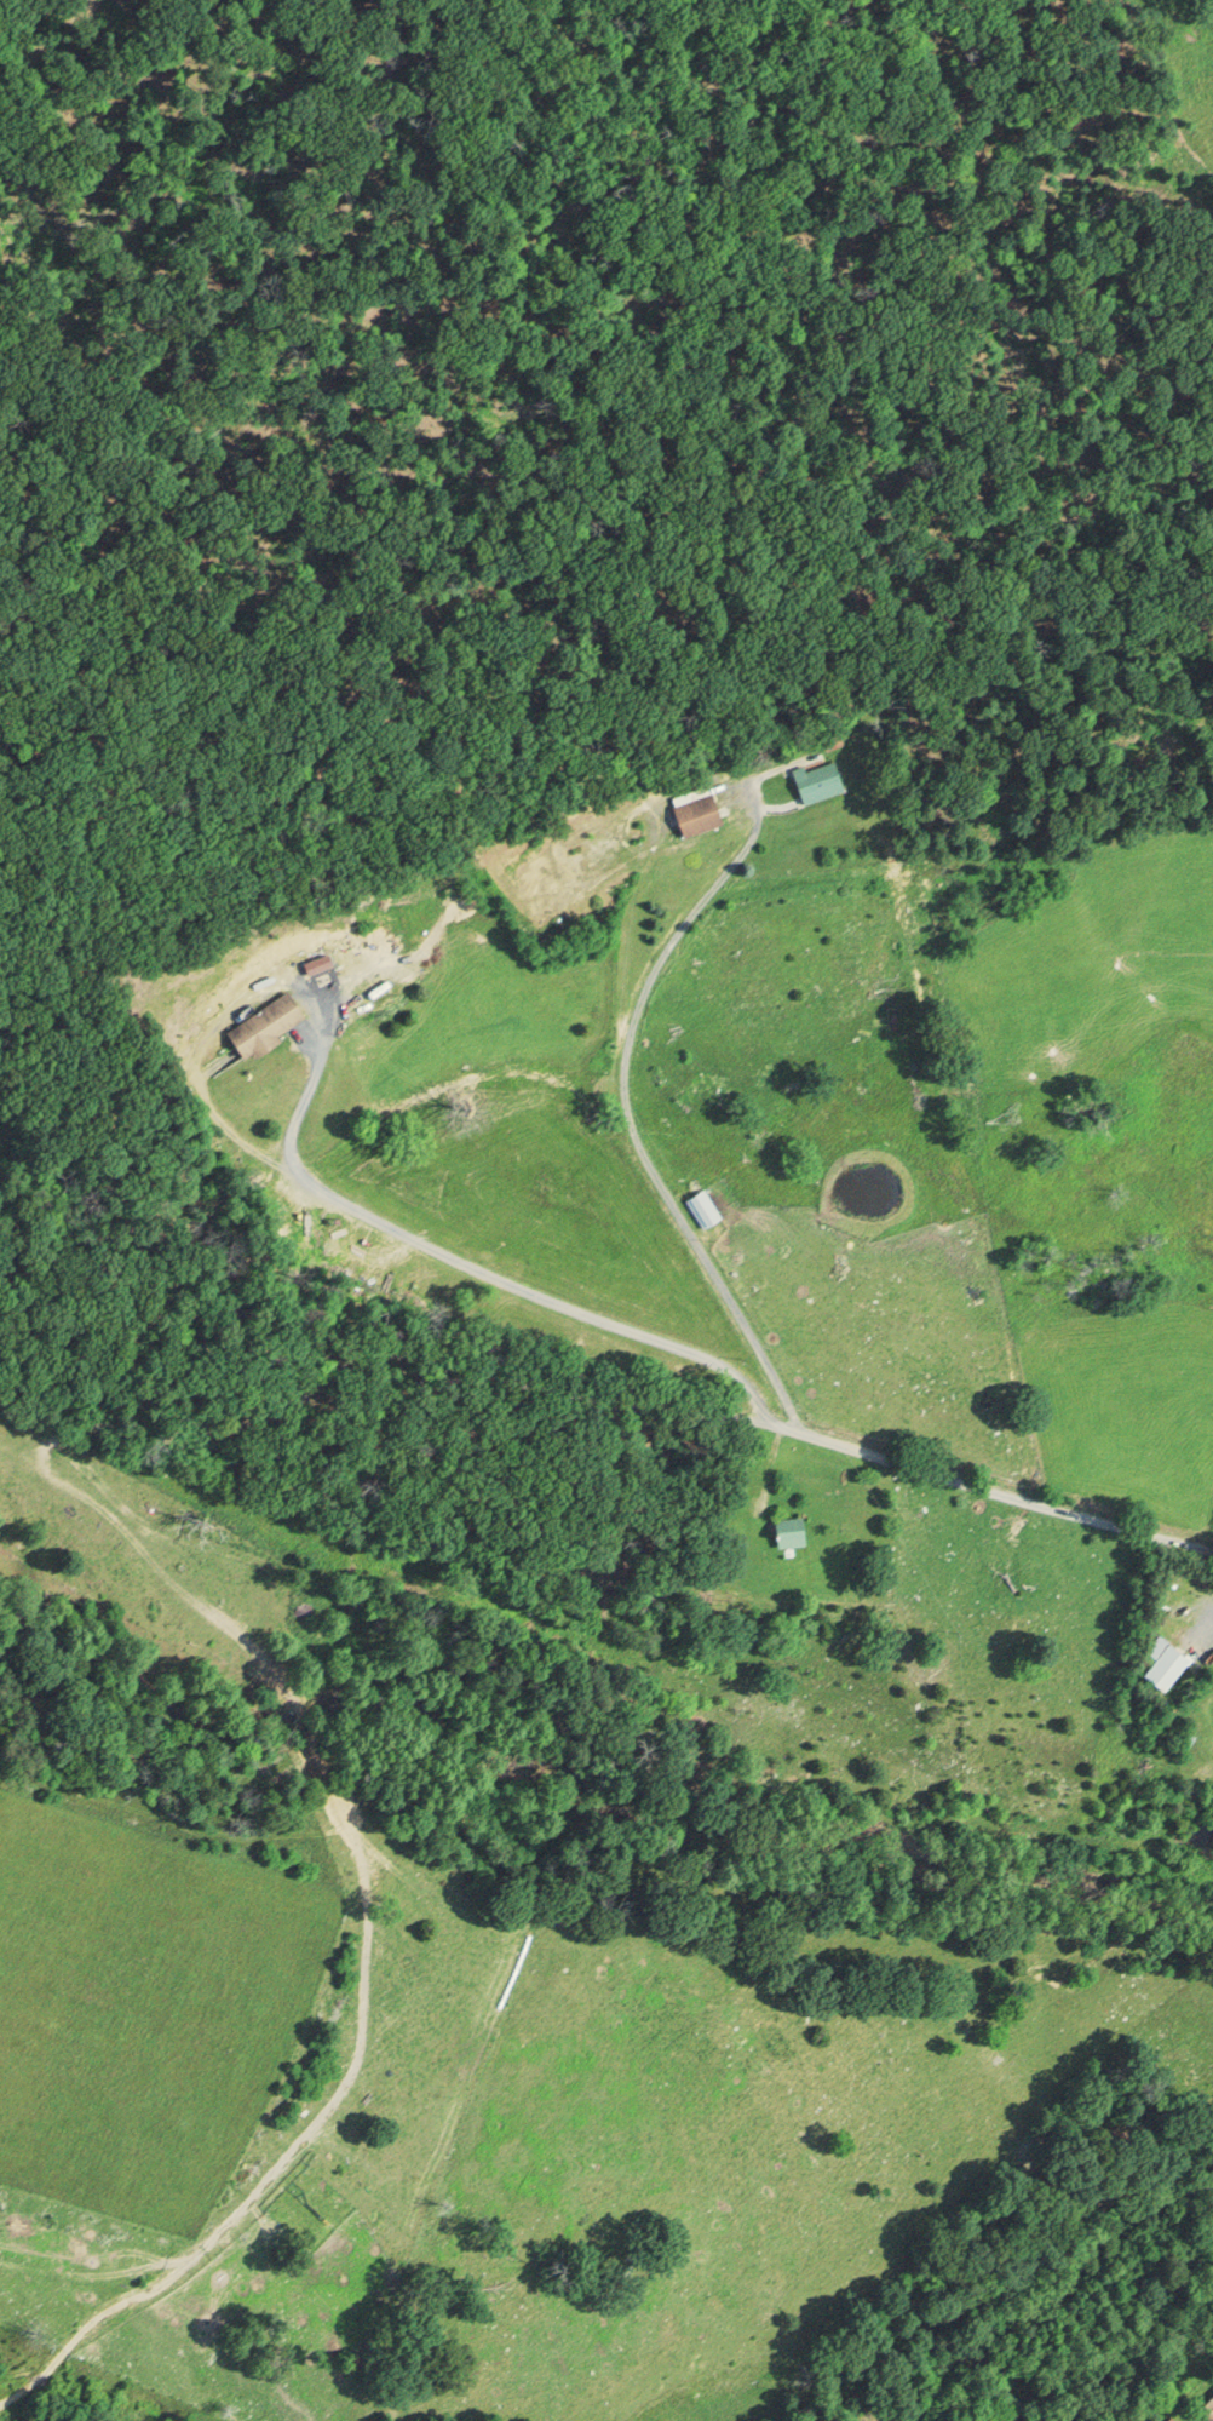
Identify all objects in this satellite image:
building: (824, 781)
building: (703, 811)
road: (648, 982)
building: (272, 1025)
road: (678, 1350)
building: (797, 1532)
building: (1159, 1663)
building: (1208, 2409)

